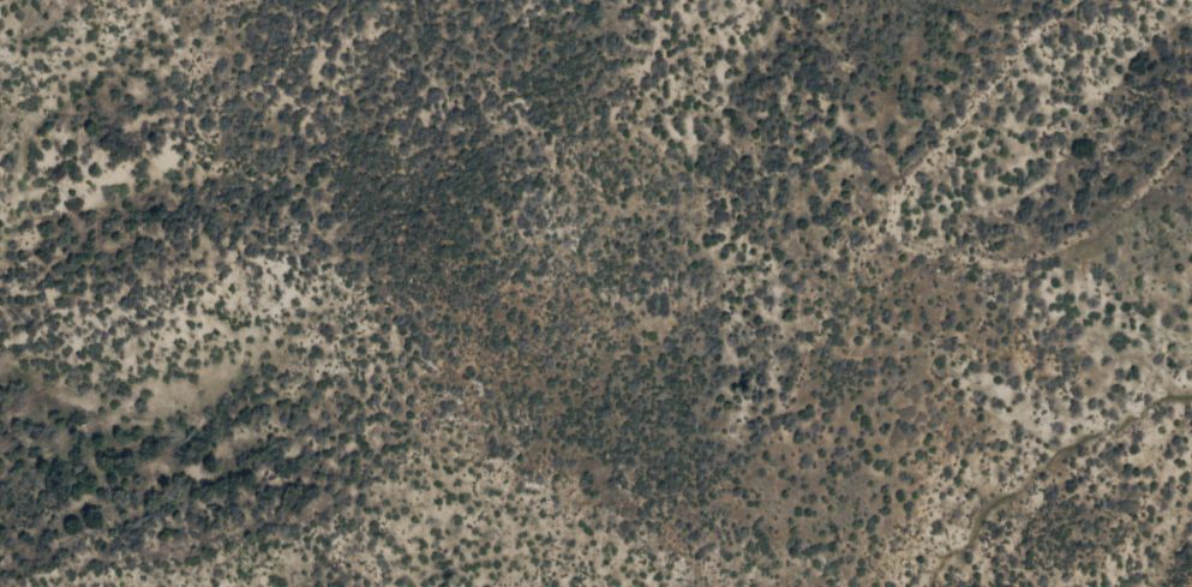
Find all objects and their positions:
road: (929, 248)

